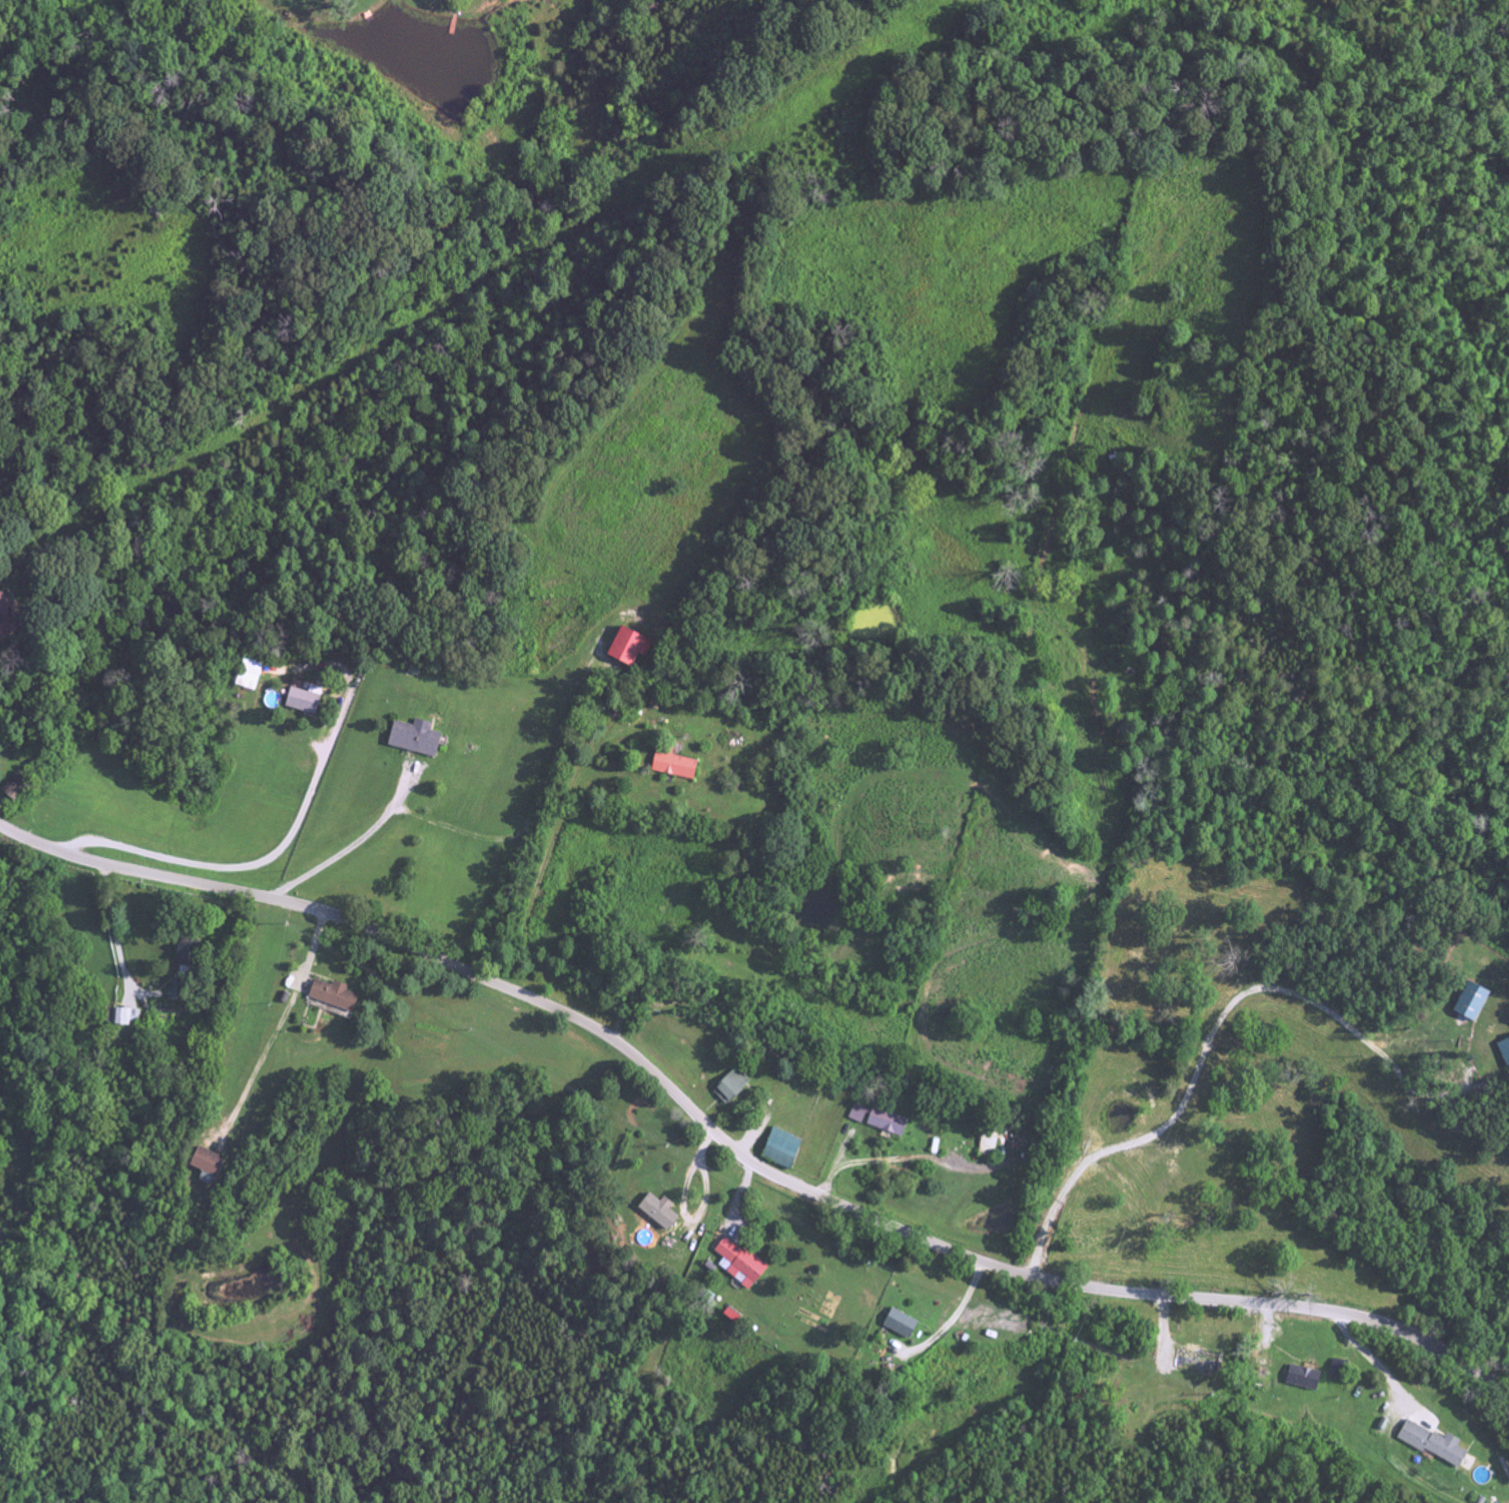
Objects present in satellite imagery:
building: (6, 617)
building: (628, 647)
building: (249, 674)
building: (301, 701)
building: (414, 738)
building: (672, 764)
building: (13, 787)
road: (348, 843)
road: (246, 865)
road: (107, 931)
building: (184, 956)
building: (333, 995)
road: (281, 1026)
road: (1210, 1029)
building: (1504, 1051)
building: (731, 1086)
building: (858, 1114)
building: (887, 1122)
building: (988, 1144)
building: (781, 1149)
road: (736, 1151)
building: (206, 1165)
building: (658, 1211)
building: (739, 1264)
building: (900, 1323)
road: (1377, 1370)
building: (1303, 1377)
building: (1434, 1443)

